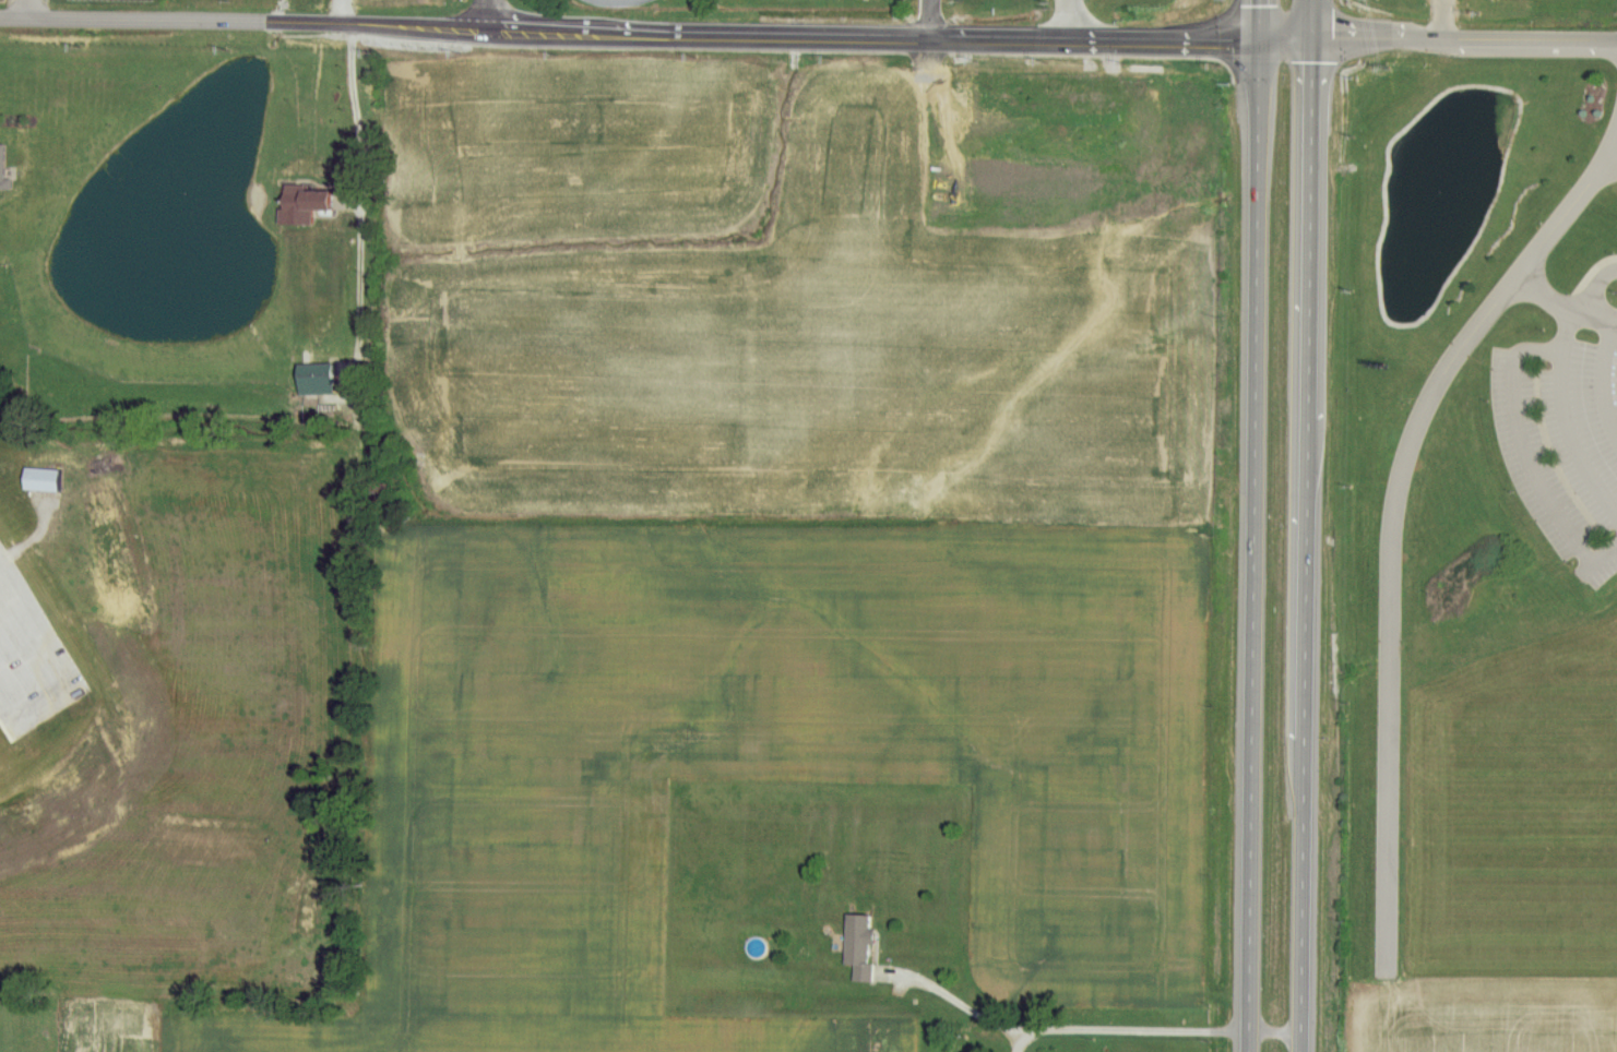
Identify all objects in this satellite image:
road: (27, 9)
road: (341, 11)
road: (485, 13)
road: (930, 17)
road: (1261, 17)
road: (1311, 19)
road: (1444, 20)
road: (655, 29)
traffic signals: (1261, 36)
traffic signals: (1311, 38)
road: (1463, 40)
road: (1614, 155)
road: (1586, 279)
road: (357, 288)
road: (1549, 301)
road: (1591, 302)
road: (1603, 380)
road: (1564, 422)
road: (1521, 446)
parking lot: (1564, 446)
road: (1391, 526)
road: (1255, 543)
road: (1304, 545)
road: (1597, 562)
building: (857, 942)
road: (1057, 1030)
road: (1274, 1032)

